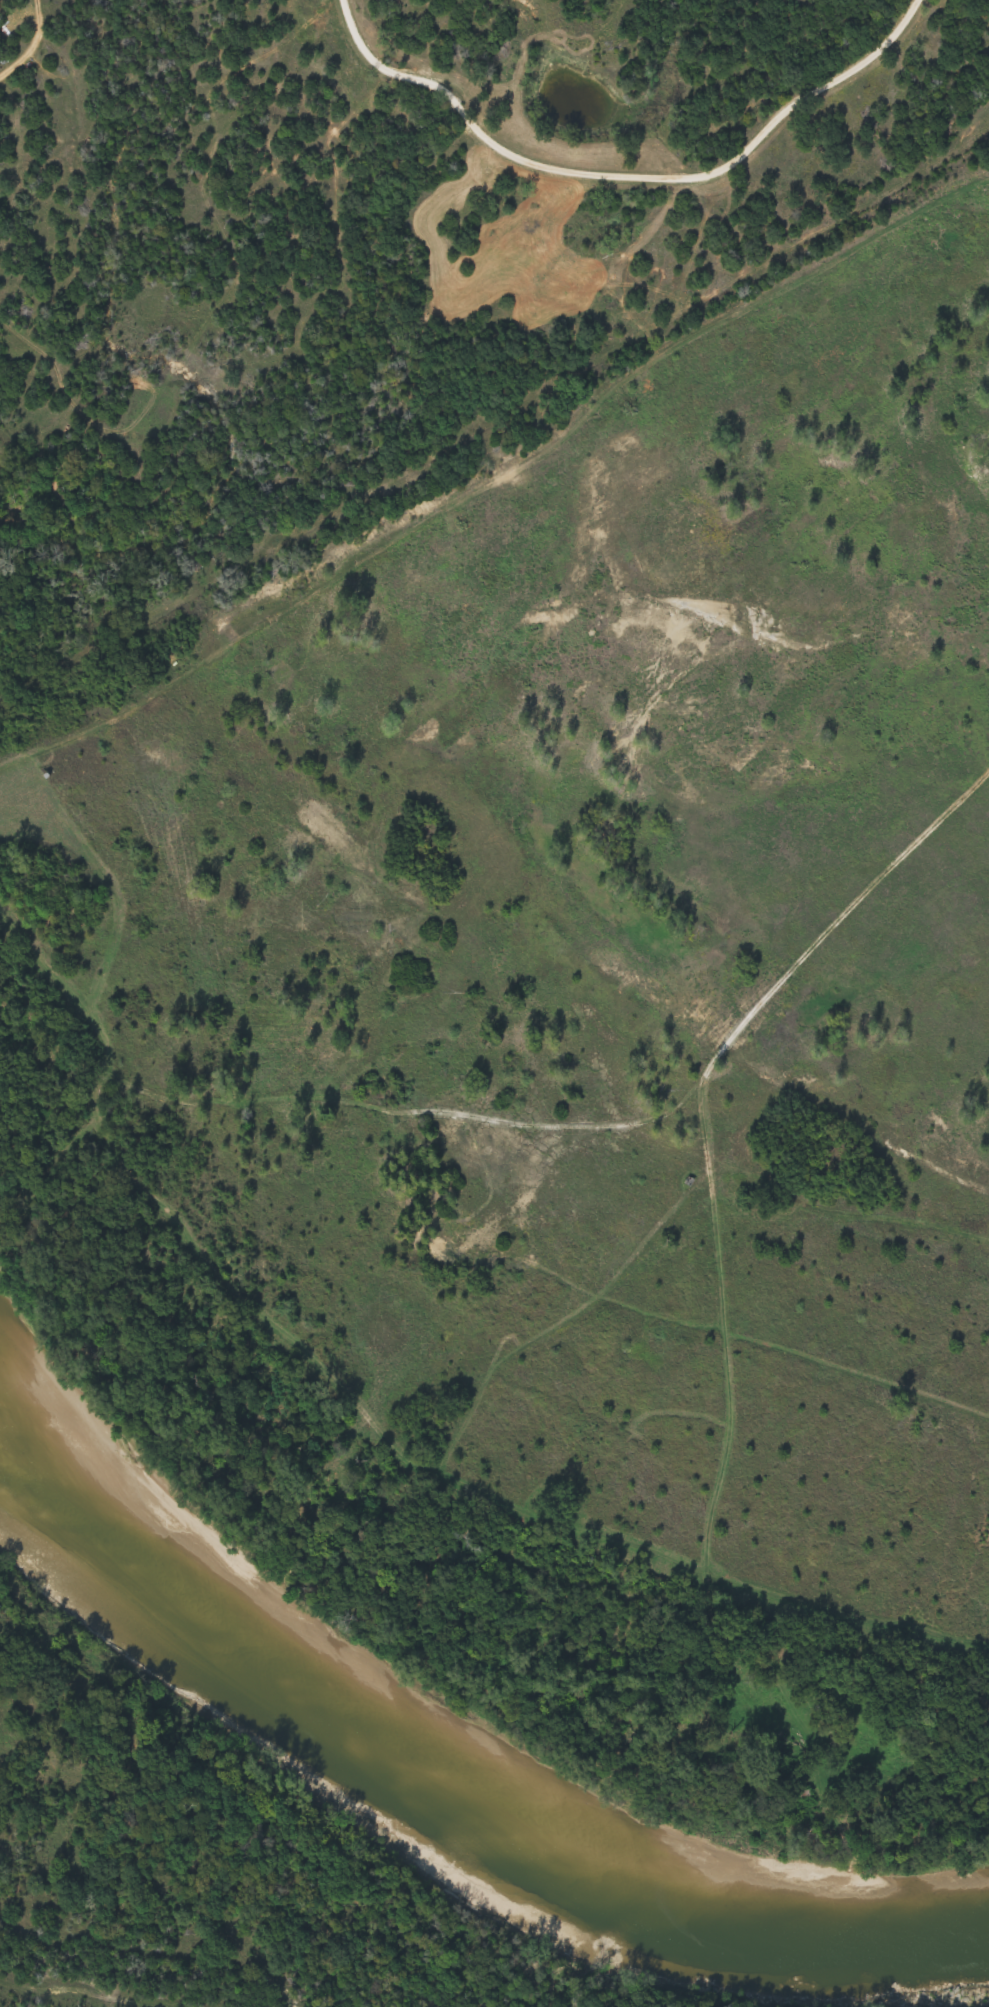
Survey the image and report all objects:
road: (624, 184)
road: (971, 215)
road: (670, 379)
road: (797, 822)
road: (699, 1186)
road: (852, 1215)
road: (427, 1392)
road: (341, 1469)
road: (712, 1533)
river: (444, 1802)

